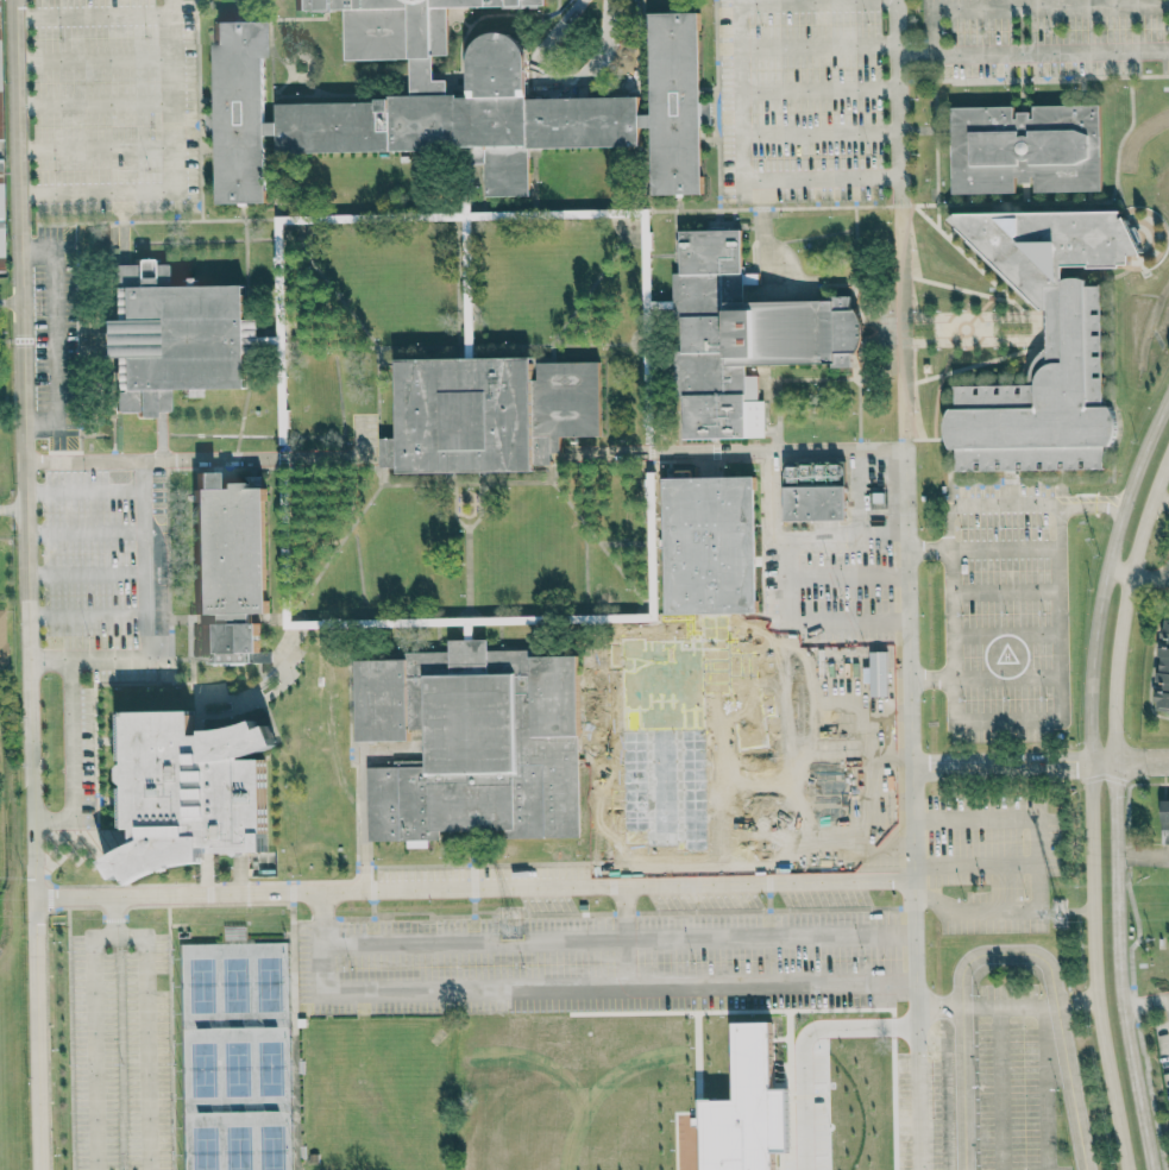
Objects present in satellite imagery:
road: (797, 1)
road: (1026, 5)
road: (93, 14)
parking lot: (1045, 40)
road: (817, 44)
road: (1033, 52)
road: (94, 59)
road: (898, 87)
building: (442, 101)
parking lot: (807, 102)
road: (95, 103)
parking lot: (113, 109)
building: (0, 114)
road: (96, 146)
building: (1024, 147)
building: (0, 164)
road: (740, 169)
road: (174, 170)
building: (0, 201)
building: (1, 245)
road: (11, 301)
building: (749, 333)
building: (174, 335)
road: (61, 338)
building: (1044, 396)
building: (490, 413)
road: (171, 460)
building: (815, 473)
road: (1165, 501)
building: (815, 503)
road: (1000, 514)
road: (1001, 549)
building: (230, 567)
road: (144, 573)
road: (1140, 578)
road: (847, 583)
road: (27, 584)
road: (1003, 591)
parking lot: (1006, 615)
road: (848, 627)
road: (947, 634)
building: (2, 639)
road: (785, 649)
helipad: (1005, 654)
road: (1058, 655)
building: (1163, 669)
road: (849, 674)
parking lot: (111, 677)
building: (692, 681)
parking lot: (835, 709)
road: (850, 724)
building: (731, 738)
building: (473, 742)
road: (70, 754)
road: (851, 763)
road: (1129, 763)
road: (1003, 767)
road: (1091, 778)
building: (188, 792)
road: (915, 806)
road: (853, 810)
building: (1164, 814)
road: (1118, 823)
road: (1143, 854)
parking lot: (999, 858)
road: (976, 864)
road: (1037, 866)
road: (474, 888)
power tower: (1058, 911)
power tower: (511, 927)
road: (623, 933)
road: (875, 977)
road: (1168, 998)
road: (1060, 999)
road: (1079, 999)
road: (1149, 1001)
road: (939, 1009)
road: (145, 1019)
road: (95, 1042)
road: (803, 1044)
parking lot: (1013, 1081)
road: (961, 1090)
parking lot: (924, 1101)
building: (742, 1108)
building: (781, 1120)

